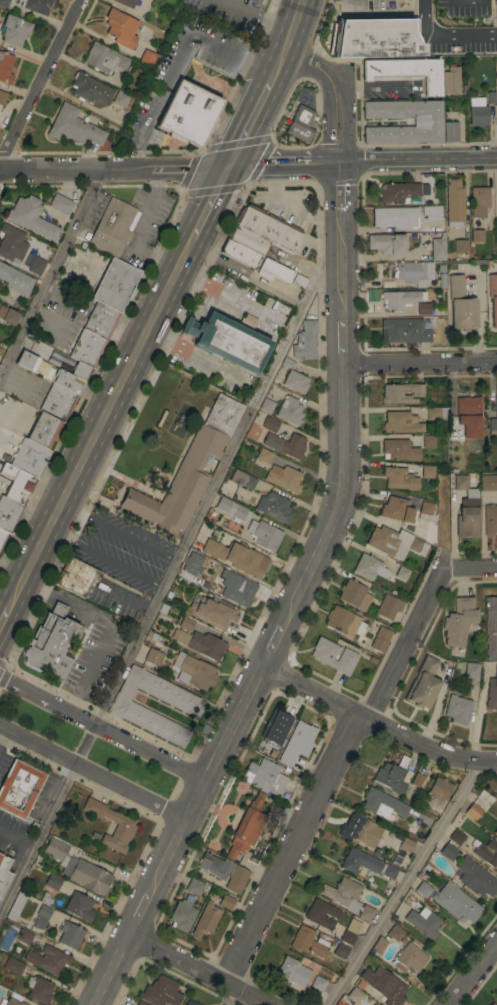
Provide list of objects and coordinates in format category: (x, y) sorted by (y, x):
building: (125, 2)
building: (3, 3)
building: (35, 5)
road: (256, 13)
building: (495, 15)
building: (120, 27)
building: (13, 29)
road: (443, 34)
building: (375, 37)
road: (289, 39)
building: (146, 57)
building: (104, 58)
building: (5, 67)
building: (405, 71)
road: (170, 79)
building: (452, 79)
road: (40, 81)
building: (89, 88)
building: (2, 96)
building: (120, 98)
building: (478, 111)
building: (187, 114)
road: (250, 122)
building: (426, 122)
building: (300, 123)
building: (72, 125)
building: (450, 130)
road: (248, 166)
traffic signals: (228, 167)
building: (397, 191)
building: (479, 200)
building: (454, 202)
building: (60, 203)
road: (210, 203)
road: (289, 205)
building: (430, 211)
building: (31, 217)
building: (394, 217)
parking lot: (145, 226)
building: (267, 227)
building: (113, 229)
road: (139, 229)
building: (477, 235)
building: (247, 239)
building: (386, 242)
building: (11, 243)
building: (460, 245)
building: (437, 247)
building: (496, 250)
building: (239, 252)
building: (36, 265)
building: (273, 270)
road: (51, 272)
building: (413, 272)
building: (15, 279)
building: (299, 280)
building: (110, 297)
building: (398, 298)
building: (493, 298)
building: (460, 305)
building: (423, 308)
building: (8, 315)
building: (405, 329)
building: (304, 340)
building: (229, 343)
building: (87, 347)
road: (195, 355)
road: (420, 363)
building: (80, 370)
building: (50, 372)
building: (295, 381)
building: (401, 392)
building: (58, 402)
building: (266, 405)
building: (496, 406)
building: (289, 410)
building: (436, 412)
building: (468, 415)
building: (401, 421)
road: (100, 423)
building: (269, 423)
building: (490, 427)
building: (44, 429)
building: (428, 440)
building: (285, 444)
building: (399, 449)
building: (263, 455)
building: (29, 457)
building: (187, 470)
building: (427, 471)
building: (283, 477)
building: (399, 478)
building: (241, 479)
building: (459, 481)
building: (487, 482)
building: (19, 486)
building: (274, 506)
building: (232, 508)
building: (396, 509)
building: (426, 511)
building: (9, 514)
building: (467, 514)
building: (489, 519)
road: (116, 531)
building: (265, 534)
building: (3, 537)
road: (325, 540)
building: (395, 542)
road: (103, 556)
building: (237, 557)
building: (192, 562)
road: (468, 566)
building: (369, 567)
road: (165, 569)
building: (401, 572)
building: (75, 576)
building: (235, 589)
building: (354, 594)
building: (388, 606)
building: (211, 610)
road: (5, 618)
building: (458, 620)
building: (344, 621)
building: (186, 622)
building: (490, 626)
building: (380, 638)
building: (49, 642)
building: (200, 643)
road: (405, 648)
building: (152, 655)
building: (333, 655)
road: (4, 662)
building: (470, 668)
building: (193, 670)
road: (4, 673)
building: (422, 683)
building: (491, 691)
street lamp: (53, 693)
building: (128, 708)
building: (457, 708)
road: (99, 710)
park: (38, 721)
street lamp: (113, 723)
road: (375, 725)
building: (275, 726)
road: (2, 727)
road: (102, 730)
road: (2, 733)
building: (297, 742)
street lamp: (24, 750)
street lamp: (180, 757)
park: (132, 768)
road: (95, 774)
building: (391, 775)
building: (264, 776)
street lamp: (85, 781)
road: (79, 782)
building: (19, 786)
road: (174, 789)
building: (437, 793)
building: (382, 803)
building: (472, 810)
street lamp: (151, 814)
building: (124, 825)
building: (246, 826)
building: (365, 831)
building: (495, 831)
building: (456, 836)
road: (16, 840)
building: (406, 844)
building: (55, 848)
road: (290, 850)
building: (447, 850)
building: (487, 851)
building: (366, 864)
building: (223, 871)
building: (4, 873)
building: (86, 875)
building: (474, 876)
building: (52, 881)
road: (402, 882)
building: (194, 885)
building: (422, 888)
building: (342, 892)
building: (410, 898)
building: (226, 901)
building: (455, 902)
building: (15, 905)
building: (78, 905)
building: (366, 912)
building: (182, 913)
building: (321, 913)
building: (41, 916)
building: (205, 919)
building: (423, 921)
building: (350, 931)
building: (394, 931)
building: (69, 934)
building: (24, 936)
building: (308, 941)
building: (379, 944)
building: (340, 949)
building: (409, 958)
building: (48, 959)
building: (13, 965)
road: (197, 970)
building: (292, 970)
road: (470, 972)
building: (318, 982)
building: (383, 984)
building: (38, 989)
building: (160, 992)
building: (357, 995)
building: (496, 996)
building: (12, 999)
building: (190, 1003)
building: (492, 1003)
building: (134, 1004)
building: (370, 1004)
building: (373, 1004)

